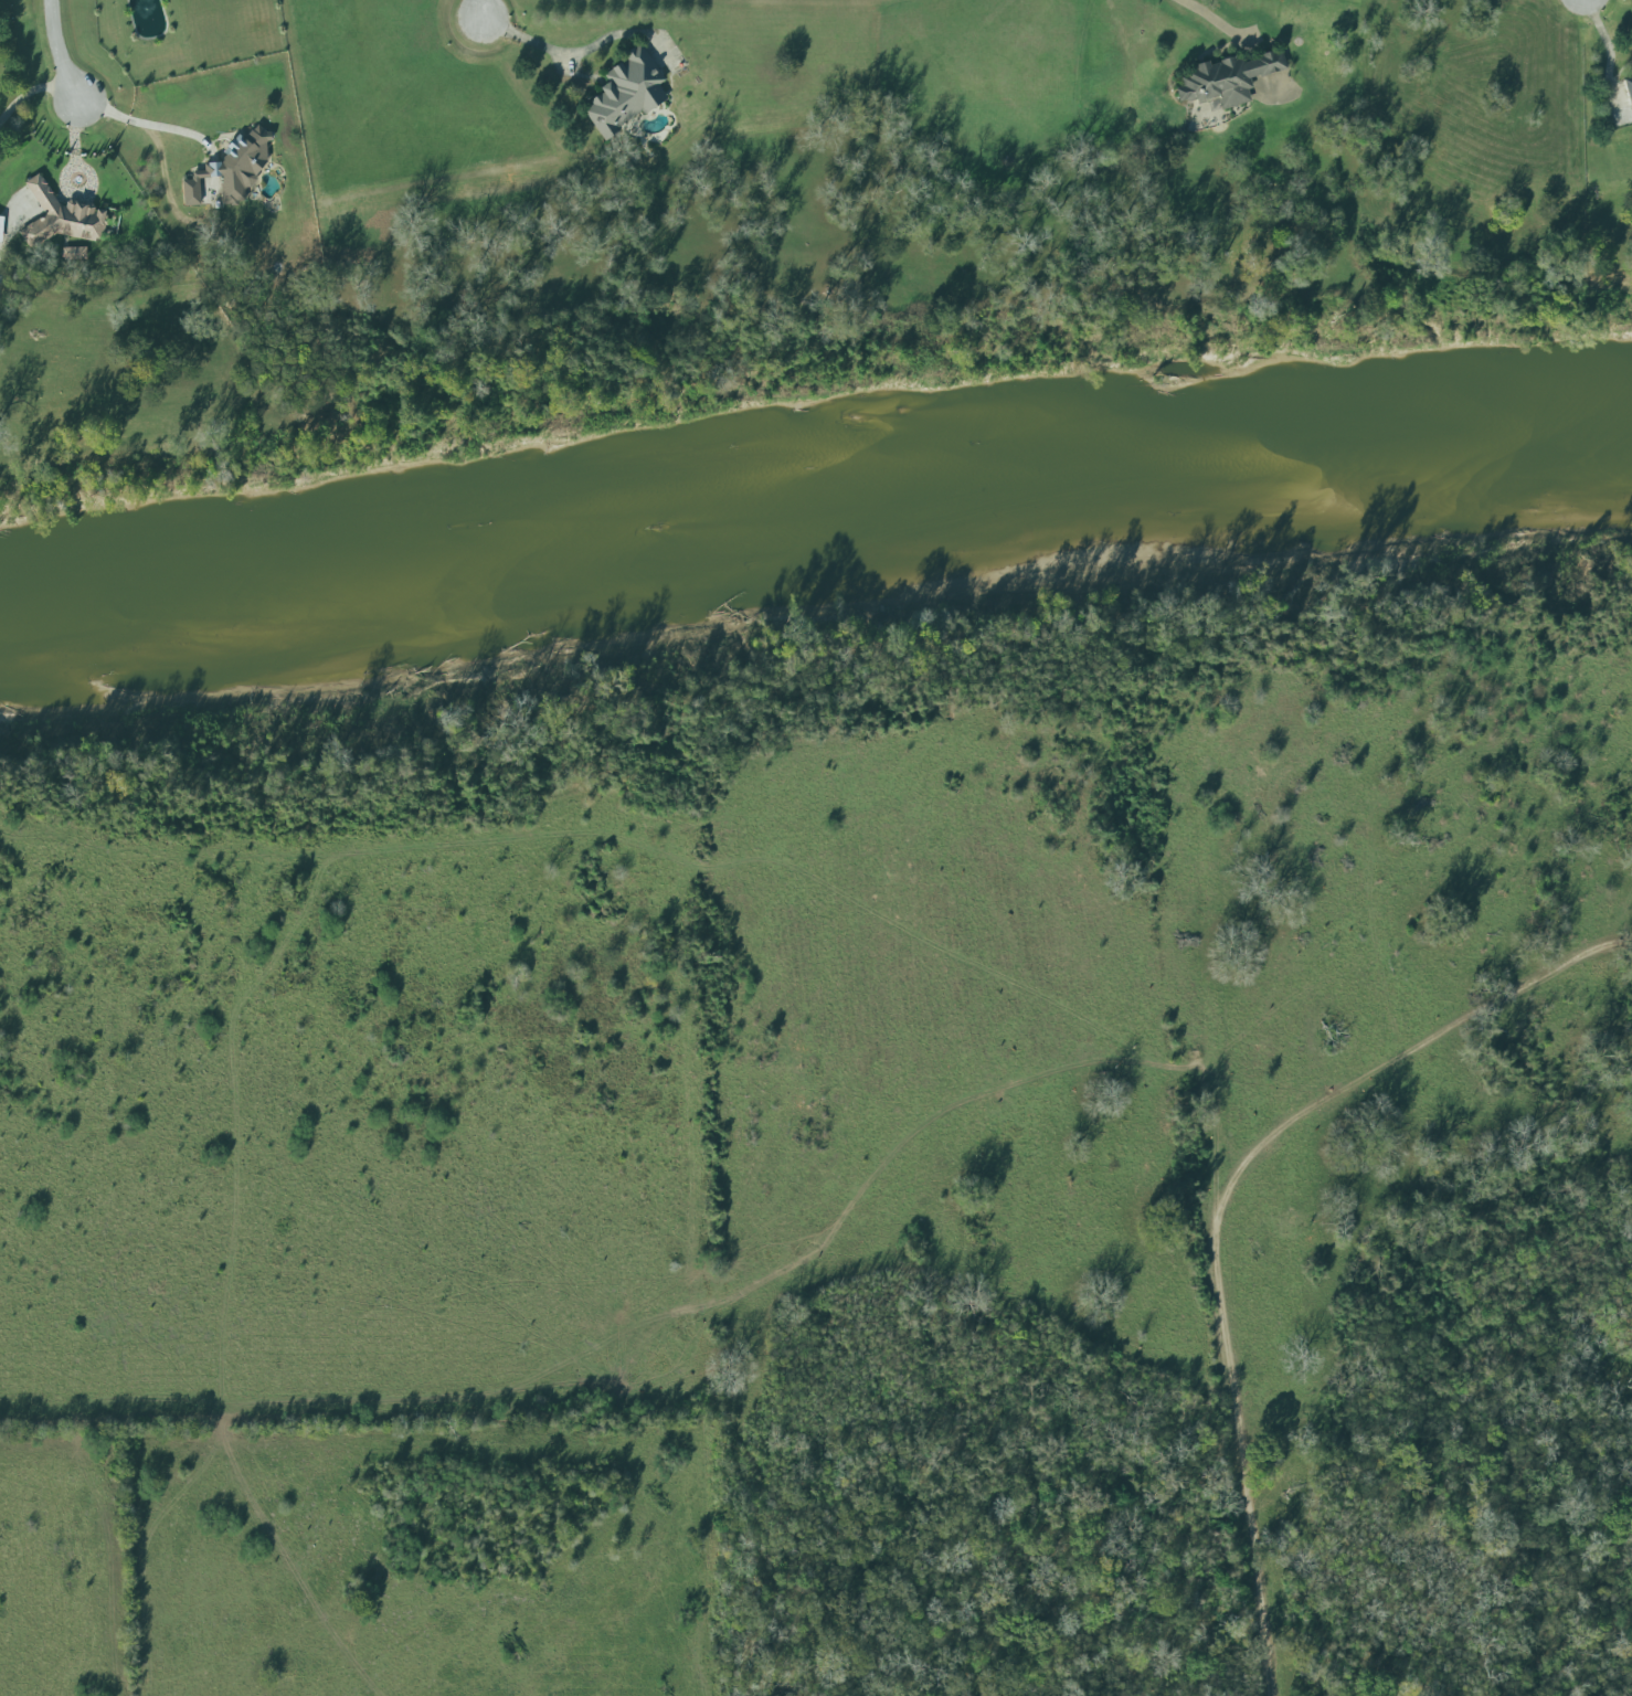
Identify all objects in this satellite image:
road: (483, 11)
road: (1206, 15)
road: (1608, 49)
road: (551, 52)
road: (53, 54)
building: (1227, 79)
building: (1628, 91)
road: (29, 93)
building: (626, 93)
road: (142, 123)
building: (233, 170)
building: (61, 218)
building: (74, 253)
river: (812, 491)
road: (1219, 1205)

